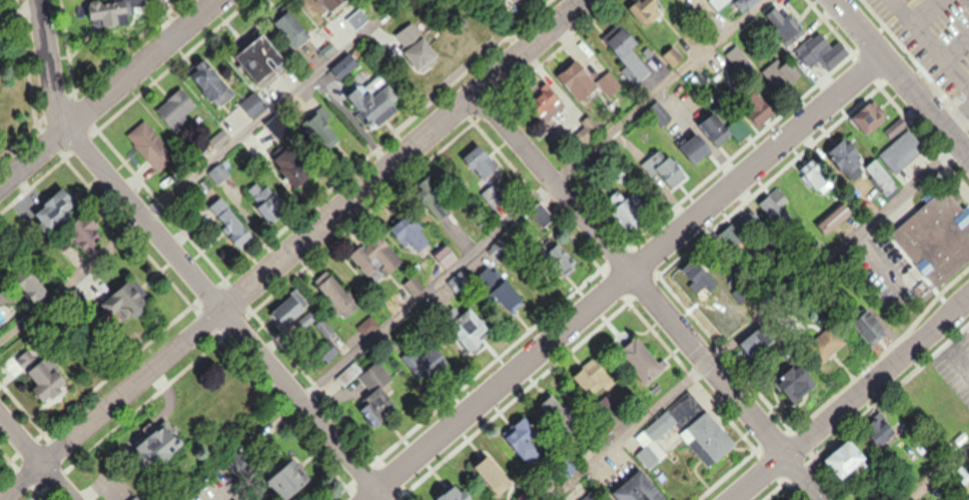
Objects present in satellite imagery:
road: (894, 1)
building: (516, 2)
building: (753, 2)
building: (134, 3)
building: (335, 4)
parking lot: (888, 5)
road: (14, 12)
building: (645, 12)
building: (359, 20)
road: (889, 20)
road: (161, 23)
building: (784, 26)
road: (950, 26)
building: (296, 30)
parking lot: (940, 38)
road: (930, 42)
building: (419, 47)
building: (627, 50)
building: (821, 52)
building: (265, 60)
road: (961, 62)
building: (349, 64)
building: (791, 71)
road: (900, 79)
building: (591, 82)
building: (213, 83)
road: (110, 92)
building: (548, 102)
building: (256, 104)
building: (382, 105)
building: (759, 107)
building: (179, 109)
building: (658, 112)
road: (955, 117)
building: (868, 118)
building: (279, 127)
building: (322, 129)
building: (722, 130)
building: (151, 146)
building: (697, 149)
building: (901, 151)
building: (484, 161)
building: (860, 165)
building: (295, 169)
building: (219, 172)
building: (814, 174)
road: (184, 178)
building: (433, 190)
building: (496, 194)
building: (270, 202)
building: (443, 207)
building: (58, 209)
building: (772, 210)
building: (628, 211)
building: (544, 215)
building: (231, 221)
road: (502, 221)
building: (416, 237)
building: (935, 239)
building: (88, 241)
road: (290, 247)
building: (502, 251)
road: (875, 255)
building: (449, 256)
building: (563, 261)
road: (180, 263)
building: (378, 263)
building: (702, 278)
road: (627, 280)
building: (340, 296)
road: (651, 296)
building: (512, 297)
building: (126, 302)
building: (289, 309)
road: (749, 323)
building: (472, 329)
road: (953, 342)
building: (759, 343)
building: (829, 344)
building: (642, 358)
building: (595, 378)
building: (799, 381)
building: (49, 383)
building: (375, 395)
road: (850, 397)
building: (561, 417)
building: (524, 437)
building: (656, 438)
building: (710, 439)
road: (35, 458)
building: (850, 461)
building: (495, 475)
building: (289, 481)
building: (642, 489)
building: (458, 494)
building: (135, 498)

